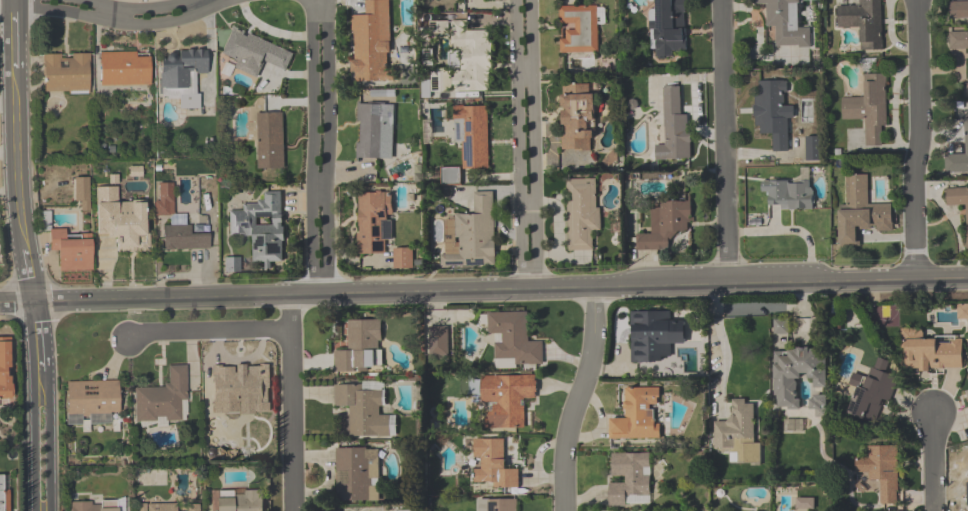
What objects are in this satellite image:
road: (135, 8)
road: (319, 10)
building: (958, 10)
road: (318, 21)
building: (862, 22)
building: (786, 23)
road: (122, 24)
building: (580, 28)
building: (668, 28)
building: (958, 41)
building: (371, 43)
building: (255, 52)
building: (471, 59)
building: (607, 64)
building: (125, 69)
road: (524, 69)
building: (66, 73)
building: (182, 76)
road: (7, 101)
building: (869, 109)
building: (774, 112)
building: (578, 118)
building: (674, 128)
building: (375, 131)
building: (472, 135)
road: (918, 140)
building: (270, 141)
road: (723, 141)
road: (518, 143)
road: (532, 143)
building: (958, 157)
road: (16, 191)
building: (788, 194)
building: (958, 203)
road: (526, 211)
building: (582, 212)
building: (861, 212)
building: (121, 219)
building: (374, 222)
building: (664, 226)
building: (262, 227)
building: (178, 228)
road: (789, 233)
building: (473, 236)
building: (71, 251)
building: (403, 259)
building: (232, 265)
road: (483, 289)
building: (963, 313)
road: (8, 317)
building: (780, 326)
road: (211, 334)
building: (649, 336)
building: (514, 338)
building: (438, 341)
building: (361, 346)
road: (724, 346)
building: (930, 351)
building: (5, 368)
building: (797, 374)
building: (967, 377)
building: (238, 387)
building: (873, 392)
building: (966, 394)
building: (93, 397)
building: (507, 398)
building: (164, 399)
road: (577, 399)
road: (292, 402)
building: (362, 409)
road: (22, 414)
building: (638, 415)
building: (738, 434)
road: (48, 444)
road: (34, 446)
road: (932, 462)
building: (491, 463)
building: (882, 470)
building: (356, 475)
building: (628, 477)
building: (966, 492)
building: (4, 493)
building: (241, 501)
building: (496, 504)
building: (89, 506)
building: (173, 507)

